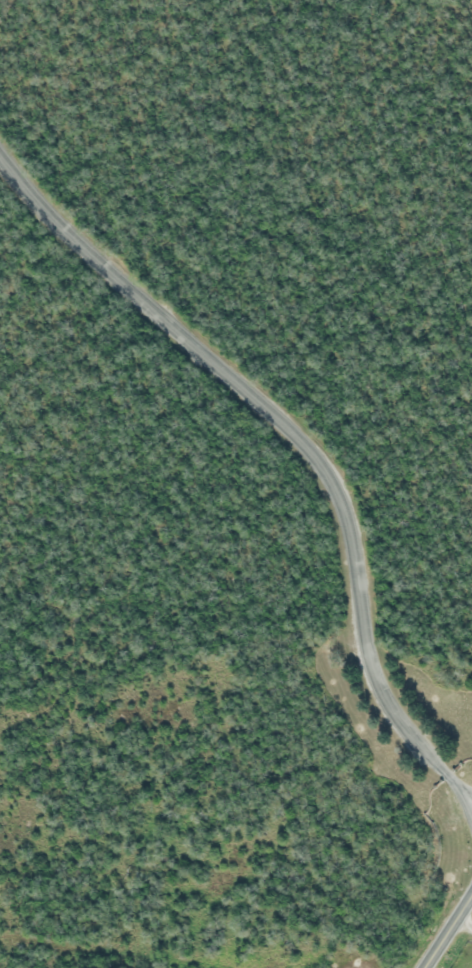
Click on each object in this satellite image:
road: (304, 445)
park: (238, 474)
road: (467, 796)
road: (462, 923)
road: (444, 929)

